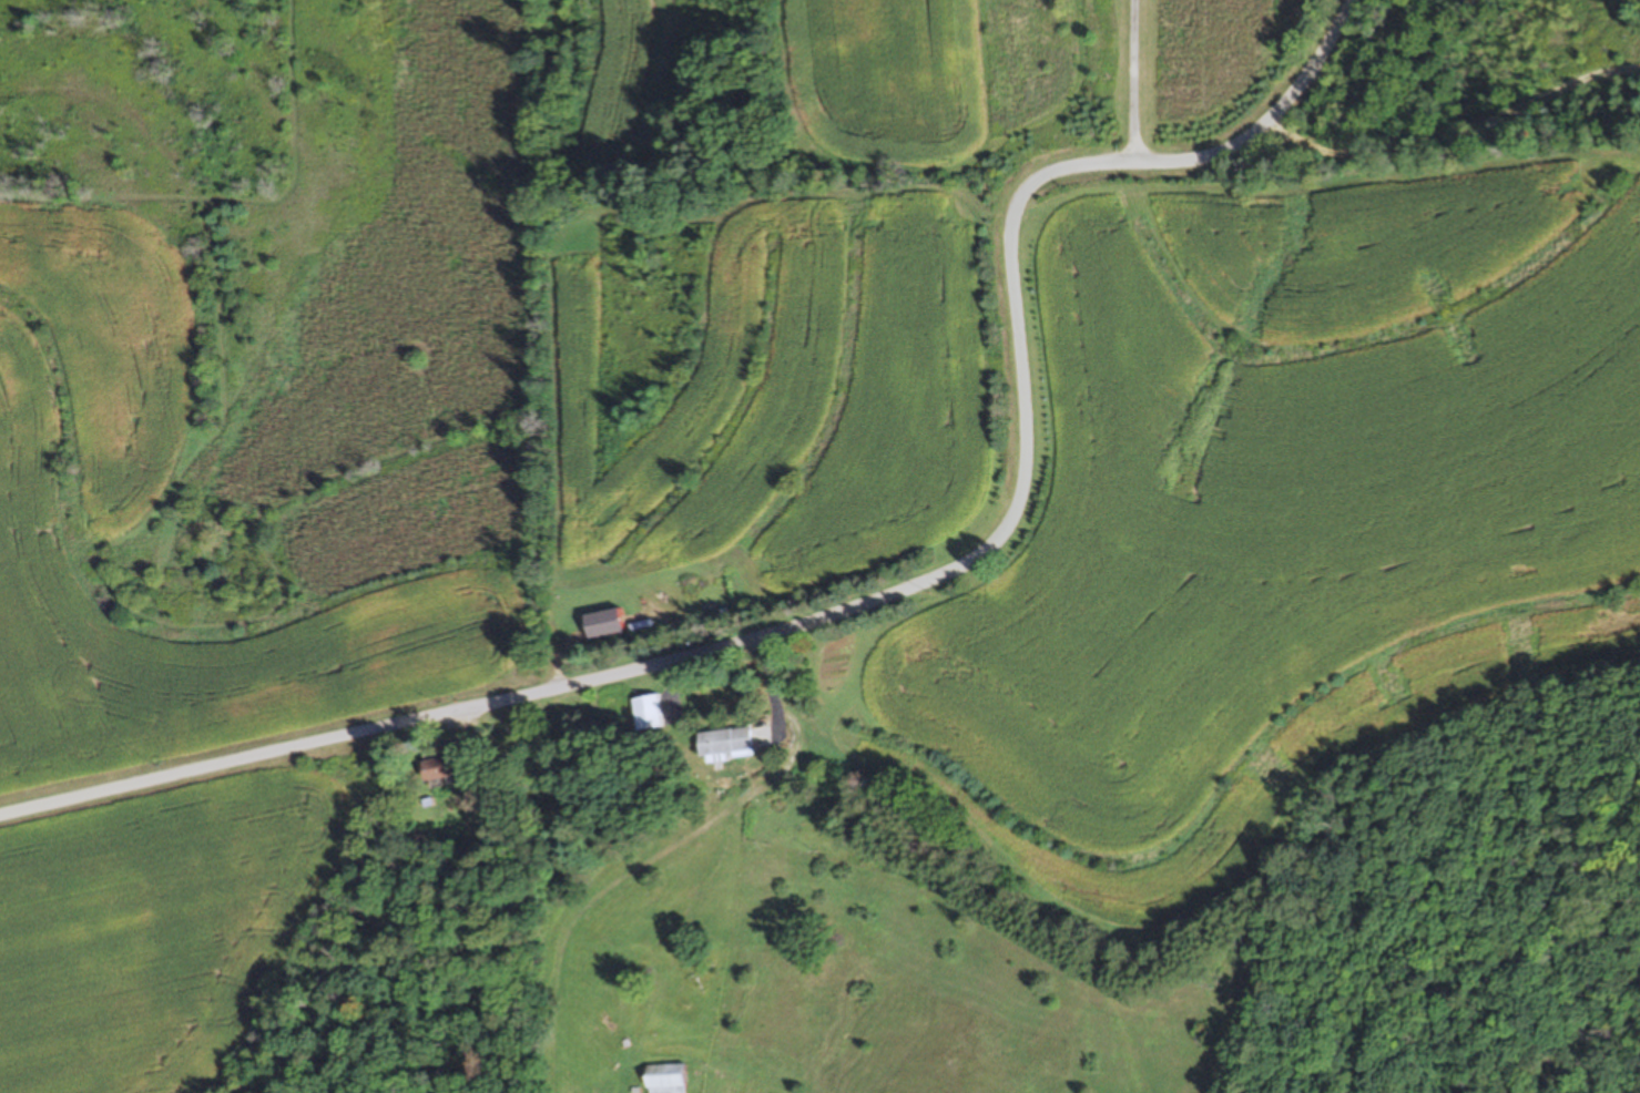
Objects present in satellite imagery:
road: (1138, 81)
road: (1456, 133)
road: (878, 599)
building: (600, 622)
building: (645, 711)
building: (724, 743)
building: (437, 767)
road: (627, 845)
building: (663, 1077)

